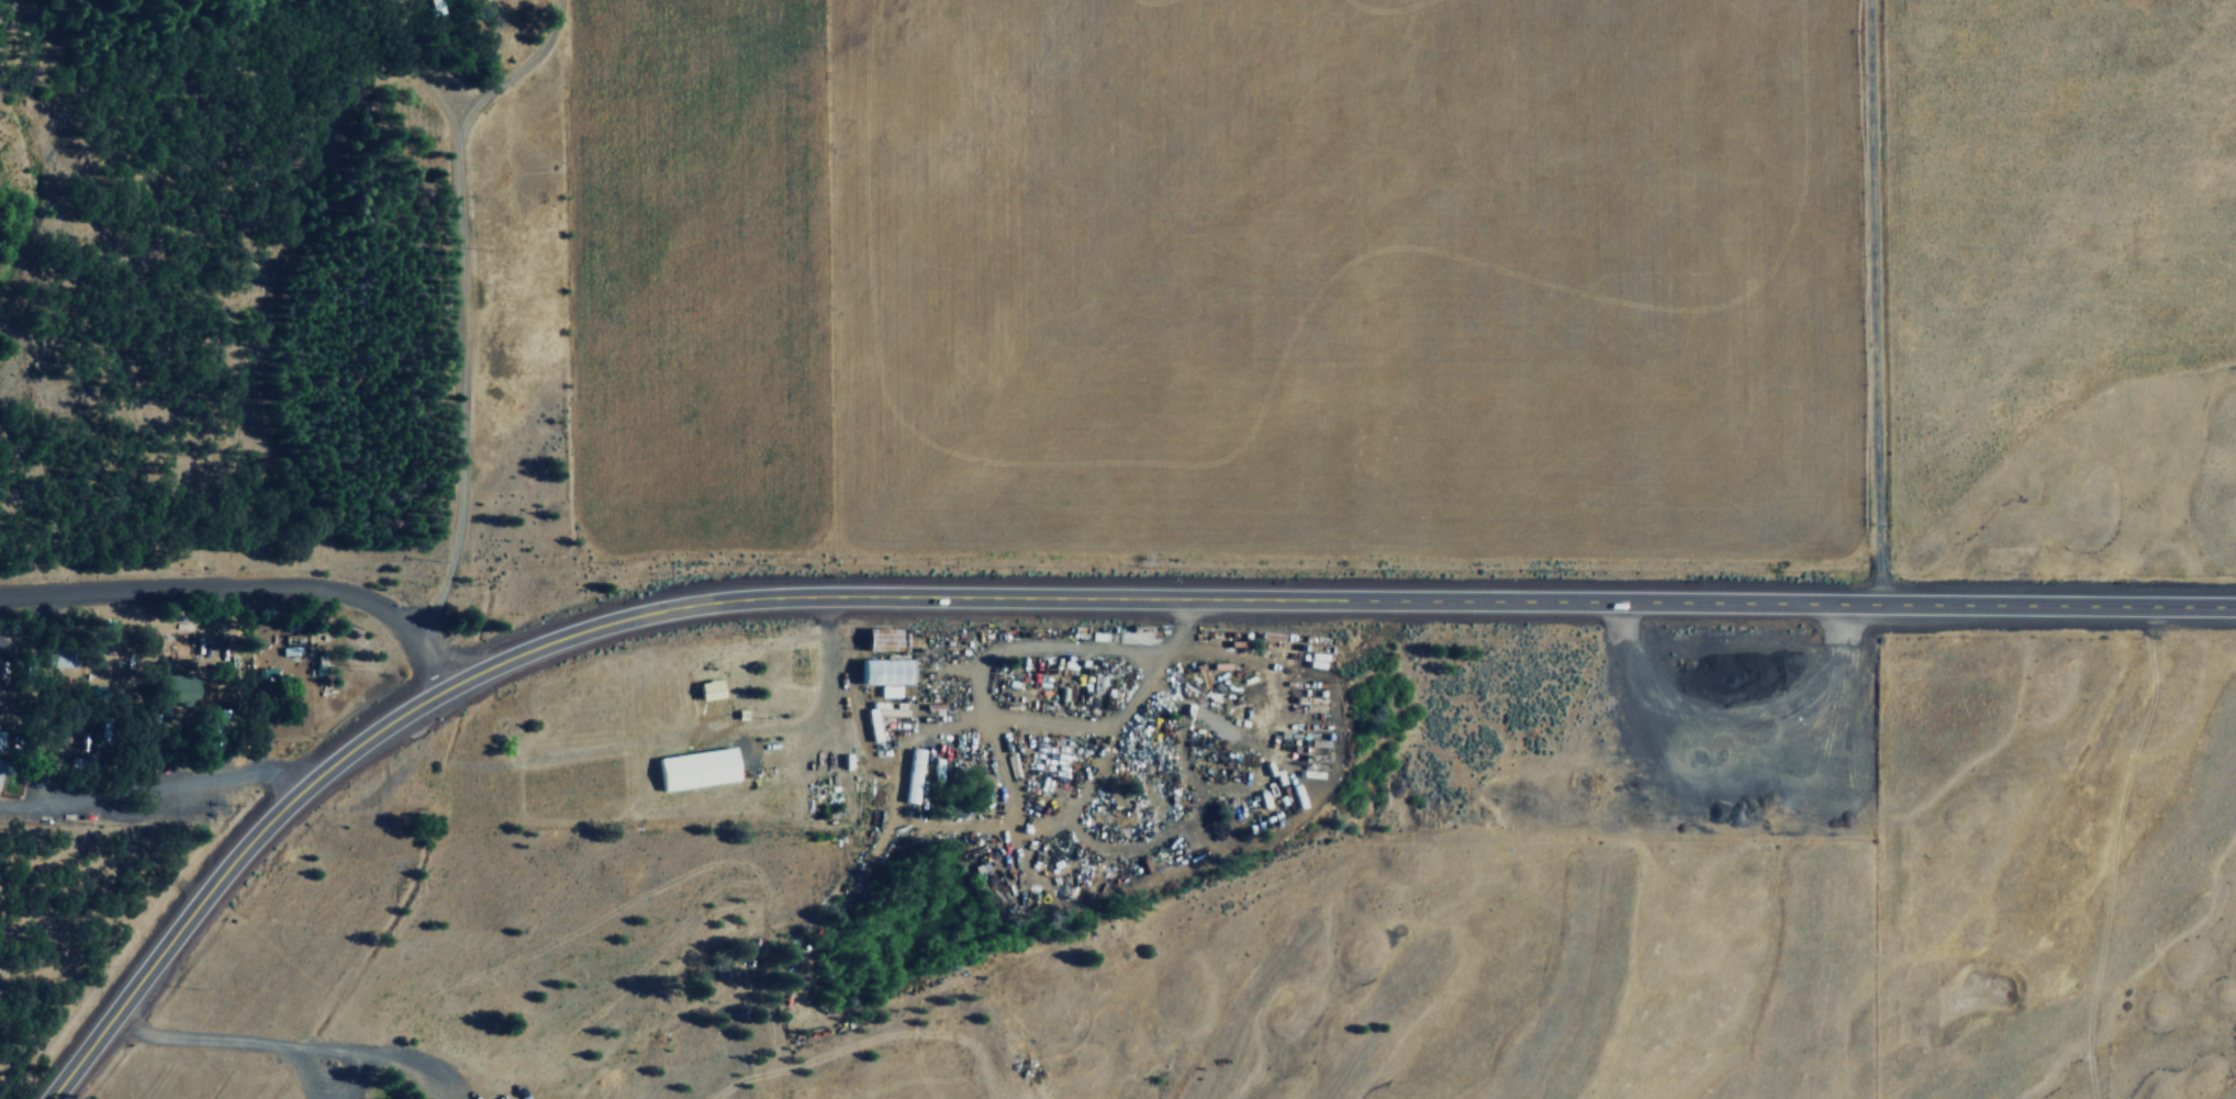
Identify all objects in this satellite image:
building: (433, 7)
road: (465, 298)
road: (1874, 300)
road: (244, 586)
road: (1043, 595)
building: (882, 637)
building: (2, 670)
building: (887, 673)
building: (265, 687)
building: (711, 687)
building: (179, 692)
building: (1, 734)
building: (187, 738)
building: (4, 764)
building: (696, 766)
building: (910, 775)
road: (150, 782)

